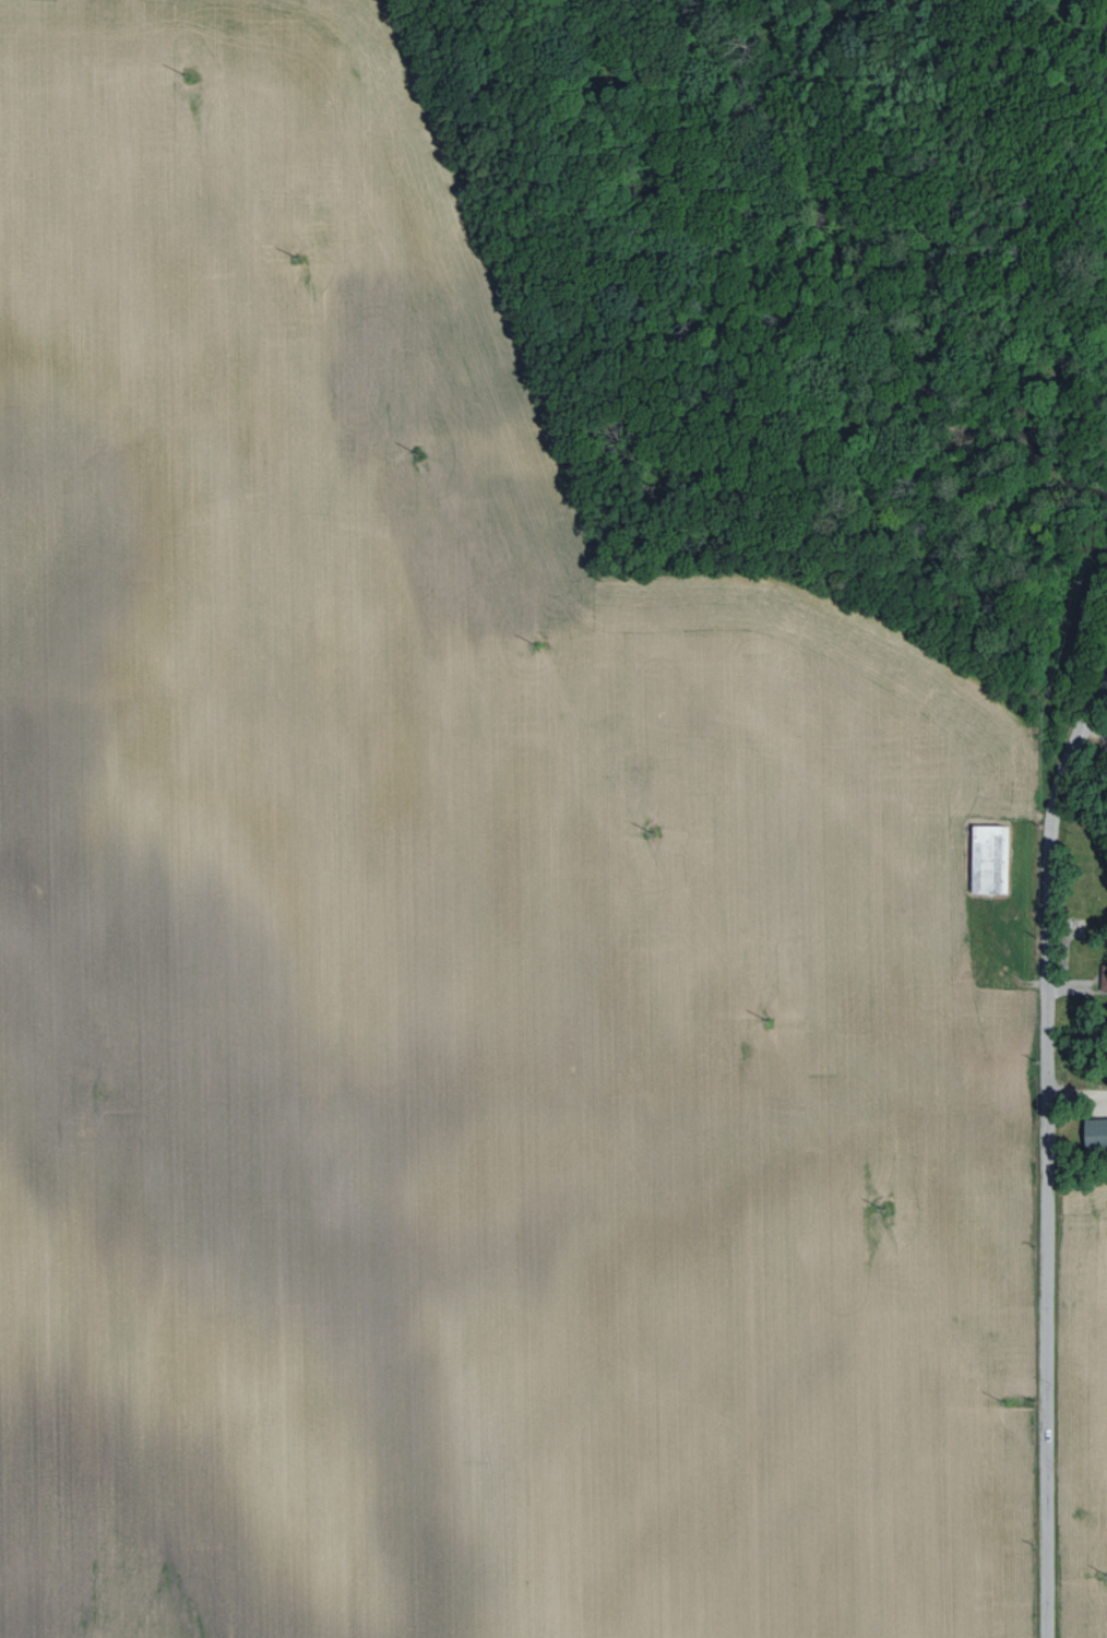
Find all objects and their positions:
road: (1091, 727)
building: (987, 858)
building: (1103, 978)
road: (1080, 1088)
building: (1094, 1132)
road: (1051, 1142)

